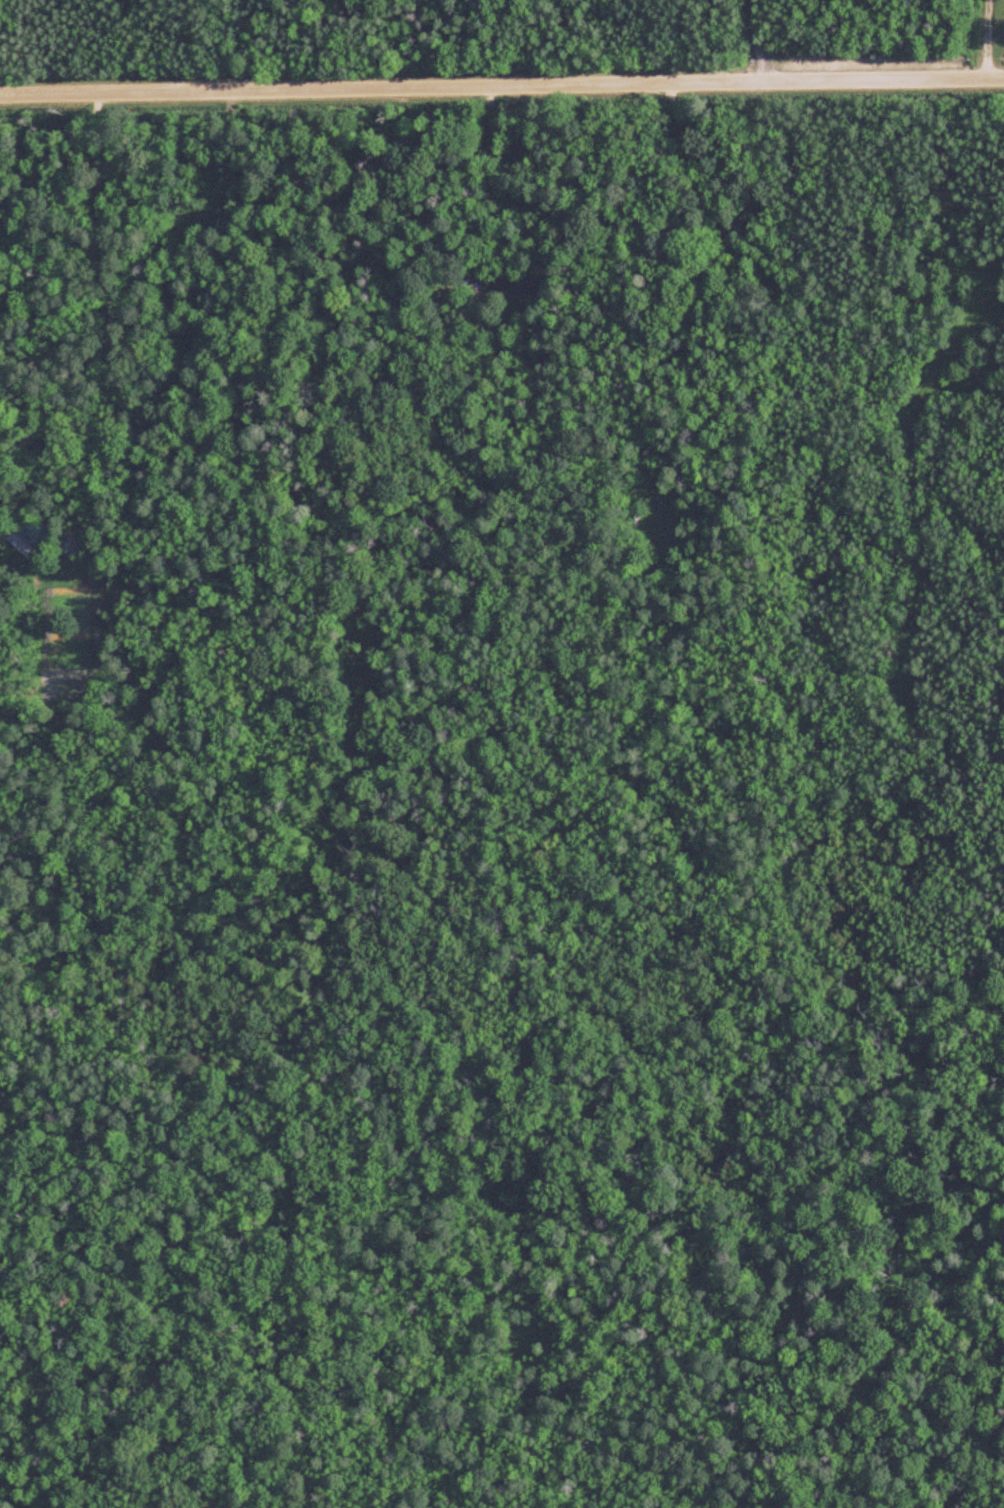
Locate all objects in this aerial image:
road: (986, 39)
road: (757, 40)
road: (502, 86)

